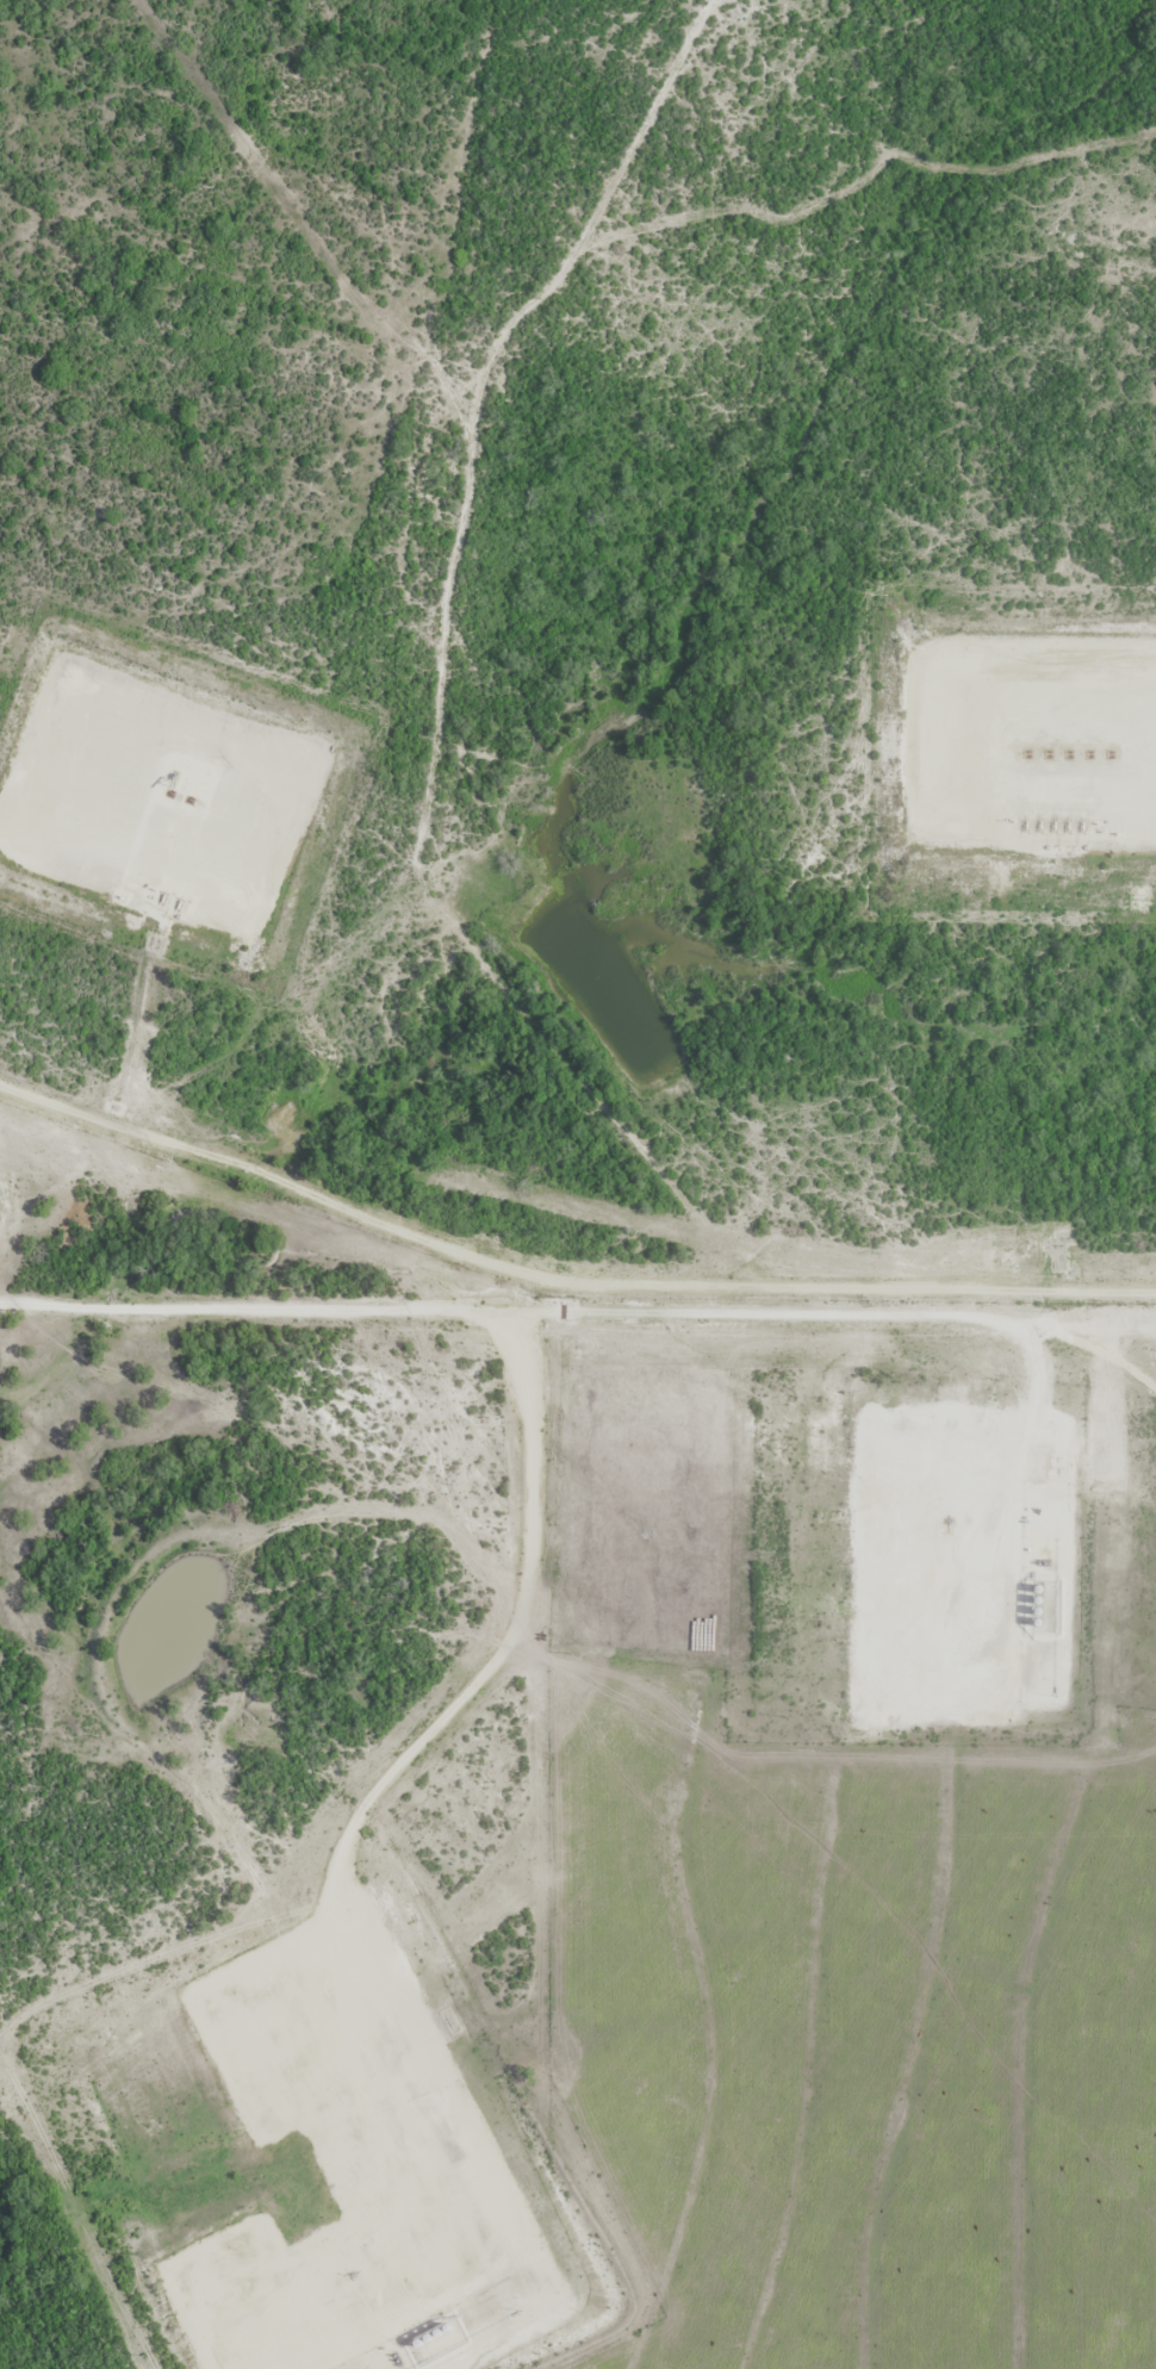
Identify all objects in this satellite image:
road: (577, 1310)

